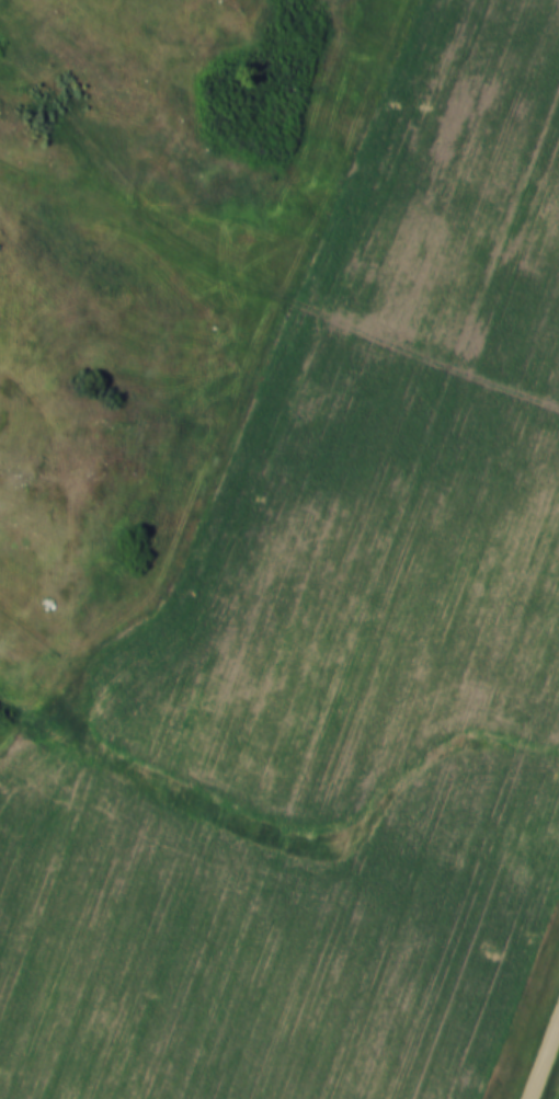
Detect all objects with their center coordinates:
road: (273, 291)
road: (545, 1061)

